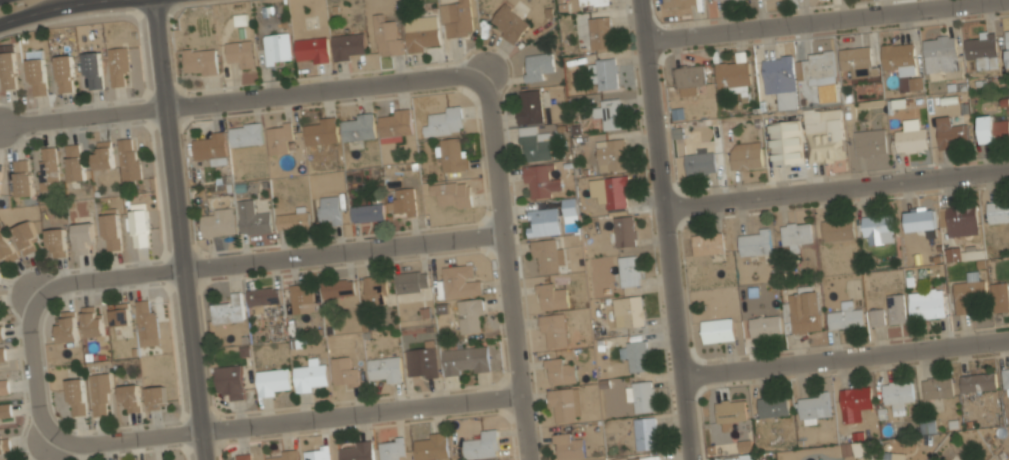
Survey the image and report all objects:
building: (715, 0)
building: (593, 2)
building: (679, 3)
road: (55, 9)
building: (458, 18)
road: (821, 20)
building: (509, 23)
building: (601, 32)
building: (421, 33)
building: (387, 36)
building: (1007, 44)
building: (349, 46)
building: (278, 49)
building: (311, 49)
building: (982, 49)
building: (941, 52)
building: (240, 53)
building: (900, 57)
building: (199, 61)
building: (858, 61)
building: (539, 65)
building: (118, 66)
building: (820, 69)
building: (8, 70)
building: (93, 71)
building: (606, 73)
building: (65, 74)
building: (37, 75)
building: (734, 75)
building: (688, 78)
building: (781, 79)
road: (328, 87)
building: (530, 105)
building: (608, 113)
road: (85, 116)
building: (445, 121)
building: (395, 124)
building: (358, 129)
building: (993, 129)
building: (321, 132)
building: (951, 132)
building: (245, 135)
building: (279, 138)
building: (911, 139)
building: (828, 140)
building: (786, 142)
building: (870, 142)
building: (534, 144)
building: (210, 148)
building: (452, 154)
building: (611, 154)
building: (103, 156)
building: (746, 156)
building: (128, 159)
building: (74, 162)
building: (699, 163)
building: (49, 168)
building: (0, 172)
building: (23, 178)
building: (538, 181)
road: (836, 187)
building: (609, 191)
building: (452, 193)
building: (402, 202)
building: (569, 206)
building: (329, 210)
building: (998, 210)
building: (367, 213)
building: (253, 217)
building: (920, 218)
building: (292, 219)
building: (960, 219)
building: (217, 221)
building: (544, 222)
building: (140, 228)
building: (838, 229)
building: (878, 229)
road: (181, 230)
building: (624, 230)
road: (666, 230)
building: (111, 232)
building: (795, 234)
building: (26, 237)
building: (83, 238)
building: (56, 241)
building: (755, 241)
building: (708, 243)
building: (6, 248)
building: (965, 252)
building: (545, 254)
road: (267, 258)
road: (506, 264)
building: (627, 271)
building: (411, 281)
building: (459, 281)
building: (338, 288)
building: (375, 290)
building: (968, 291)
building: (551, 296)
building: (999, 296)
building: (264, 297)
building: (301, 298)
building: (927, 303)
building: (896, 308)
building: (230, 310)
building: (629, 311)
building: (804, 311)
building: (119, 314)
building: (470, 315)
building: (846, 316)
building: (877, 316)
building: (92, 322)
building: (146, 322)
building: (765, 325)
building: (66, 327)
building: (718, 329)
building: (553, 330)
building: (1, 334)
road: (844, 353)
building: (634, 354)
building: (2, 355)
building: (466, 359)
building: (422, 362)
road: (34, 367)
building: (384, 369)
building: (343, 371)
building: (560, 371)
building: (310, 375)
building: (1005, 380)
building: (229, 381)
building: (273, 381)
building: (979, 382)
building: (4, 386)
building: (938, 386)
building: (898, 392)
building: (99, 394)
building: (640, 395)
building: (75, 396)
building: (129, 397)
building: (155, 397)
building: (854, 400)
building: (565, 404)
building: (774, 406)
building: (815, 406)
building: (5, 411)
building: (730, 412)
road: (284, 417)
building: (927, 428)
building: (645, 432)
building: (430, 445)
building: (482, 445)
building: (4, 446)
building: (567, 447)
building: (391, 448)
building: (356, 450)
building: (317, 453)
building: (282, 455)
building: (883, 456)
building: (894, 456)
building: (243, 457)
building: (645, 457)

